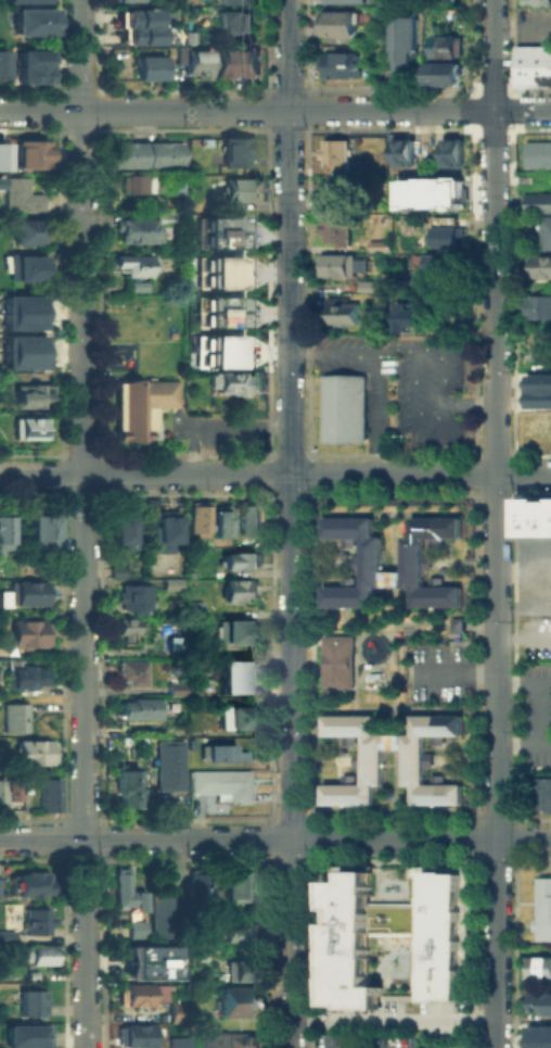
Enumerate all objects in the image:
building: (26, 0)
building: (128, 0)
building: (233, 1)
building: (345, 1)
building: (539, 1)
building: (235, 22)
building: (33, 23)
building: (139, 24)
building: (337, 24)
building: (189, 36)
building: (444, 47)
building: (403, 49)
building: (533, 62)
building: (236, 63)
building: (3, 64)
building: (197, 64)
building: (150, 65)
building: (339, 65)
building: (33, 66)
building: (440, 74)
road: (274, 111)
building: (235, 152)
building: (401, 152)
building: (451, 153)
building: (33, 154)
building: (537, 154)
building: (145, 155)
building: (334, 155)
building: (0, 181)
building: (136, 185)
building: (236, 189)
building: (426, 192)
building: (333, 193)
building: (22, 195)
building: (538, 207)
building: (444, 222)
building: (216, 224)
building: (140, 228)
building: (336, 229)
building: (28, 230)
road: (82, 237)
road: (289, 237)
building: (446, 237)
building: (548, 238)
building: (216, 240)
building: (375, 245)
building: (440, 263)
building: (216, 264)
building: (336, 264)
building: (136, 265)
building: (27, 267)
building: (540, 272)
building: (216, 279)
building: (138, 285)
building: (367, 287)
building: (22, 303)
building: (216, 303)
building: (341, 312)
building: (539, 312)
building: (405, 318)
building: (216, 319)
building: (22, 320)
building: (22, 342)
building: (217, 342)
building: (217, 358)
building: (22, 359)
building: (229, 383)
parking lot: (401, 386)
building: (539, 389)
building: (33, 394)
building: (343, 406)
building: (141, 407)
building: (30, 428)
road: (388, 452)
road: (470, 452)
road: (491, 452)
road: (102, 453)
road: (184, 453)
road: (267, 453)
road: (287, 453)
road: (307, 453)
road: (513, 453)
road: (33, 454)
road: (64, 454)
road: (81, 454)
road: (308, 466)
road: (62, 467)
road: (102, 467)
road: (469, 471)
road: (267, 474)
road: (513, 474)
road: (185, 475)
road: (420, 475)
road: (41, 476)
road: (309, 481)
road: (62, 482)
road: (102, 482)
road: (267, 493)
road: (388, 493)
road: (470, 493)
road: (492, 493)
road: (30, 494)
road: (62, 494)
road: (81, 494)
road: (102, 494)
road: (184, 494)
road: (282, 494)
road: (296, 494)
road: (309, 494)
road: (514, 494)
building: (151, 505)
building: (535, 517)
building: (206, 518)
building: (247, 519)
road: (495, 523)
building: (165, 530)
building: (5, 531)
building: (40, 531)
building: (123, 531)
building: (414, 558)
building: (239, 560)
building: (369, 560)
road: (390, 564)
building: (119, 570)
parking lot: (534, 576)
building: (172, 584)
building: (236, 591)
building: (28, 594)
building: (5, 597)
building: (133, 598)
building: (194, 609)
road: (444, 619)
building: (454, 623)
road: (376, 626)
building: (232, 631)
building: (126, 633)
building: (30, 634)
road: (389, 646)
road: (290, 656)
road: (308, 656)
road: (472, 657)
building: (335, 660)
building: (175, 666)
road: (454, 670)
building: (131, 672)
parking lot: (437, 672)
building: (235, 674)
building: (26, 677)
road: (351, 683)
road: (523, 683)
building: (177, 690)
road: (393, 704)
road: (390, 706)
building: (138, 707)
parking lot: (534, 712)
road: (539, 715)
building: (16, 716)
building: (238, 717)
road: (523, 747)
building: (36, 753)
building: (222, 753)
building: (410, 754)
building: (373, 755)
road: (85, 761)
building: (168, 766)
building: (222, 785)
building: (127, 788)
building: (543, 793)
building: (7, 794)
building: (49, 795)
road: (287, 817)
road: (268, 818)
road: (307, 818)
road: (390, 818)
road: (492, 818)
road: (513, 818)
road: (473, 821)
road: (308, 836)
road: (513, 837)
road: (267, 838)
road: (473, 838)
road: (145, 839)
road: (421, 839)
road: (309, 858)
road: (494, 858)
road: (514, 858)
road: (268, 859)
road: (289, 859)
road: (390, 859)
road: (473, 859)
building: (238, 884)
building: (29, 885)
building: (198, 889)
building: (126, 893)
building: (542, 907)
building: (165, 914)
building: (38, 922)
building: (137, 931)
building: (398, 931)
building: (238, 934)
building: (7, 937)
road: (291, 944)
building: (198, 952)
building: (35, 956)
building: (146, 960)
building: (537, 967)
building: (243, 972)
building: (30, 973)
building: (141, 995)
building: (234, 1000)
building: (539, 1001)
building: (33, 1003)
building: (178, 1012)
building: (25, 1035)
building: (137, 1036)
building: (537, 1036)
building: (230, 1038)
building: (178, 1045)

